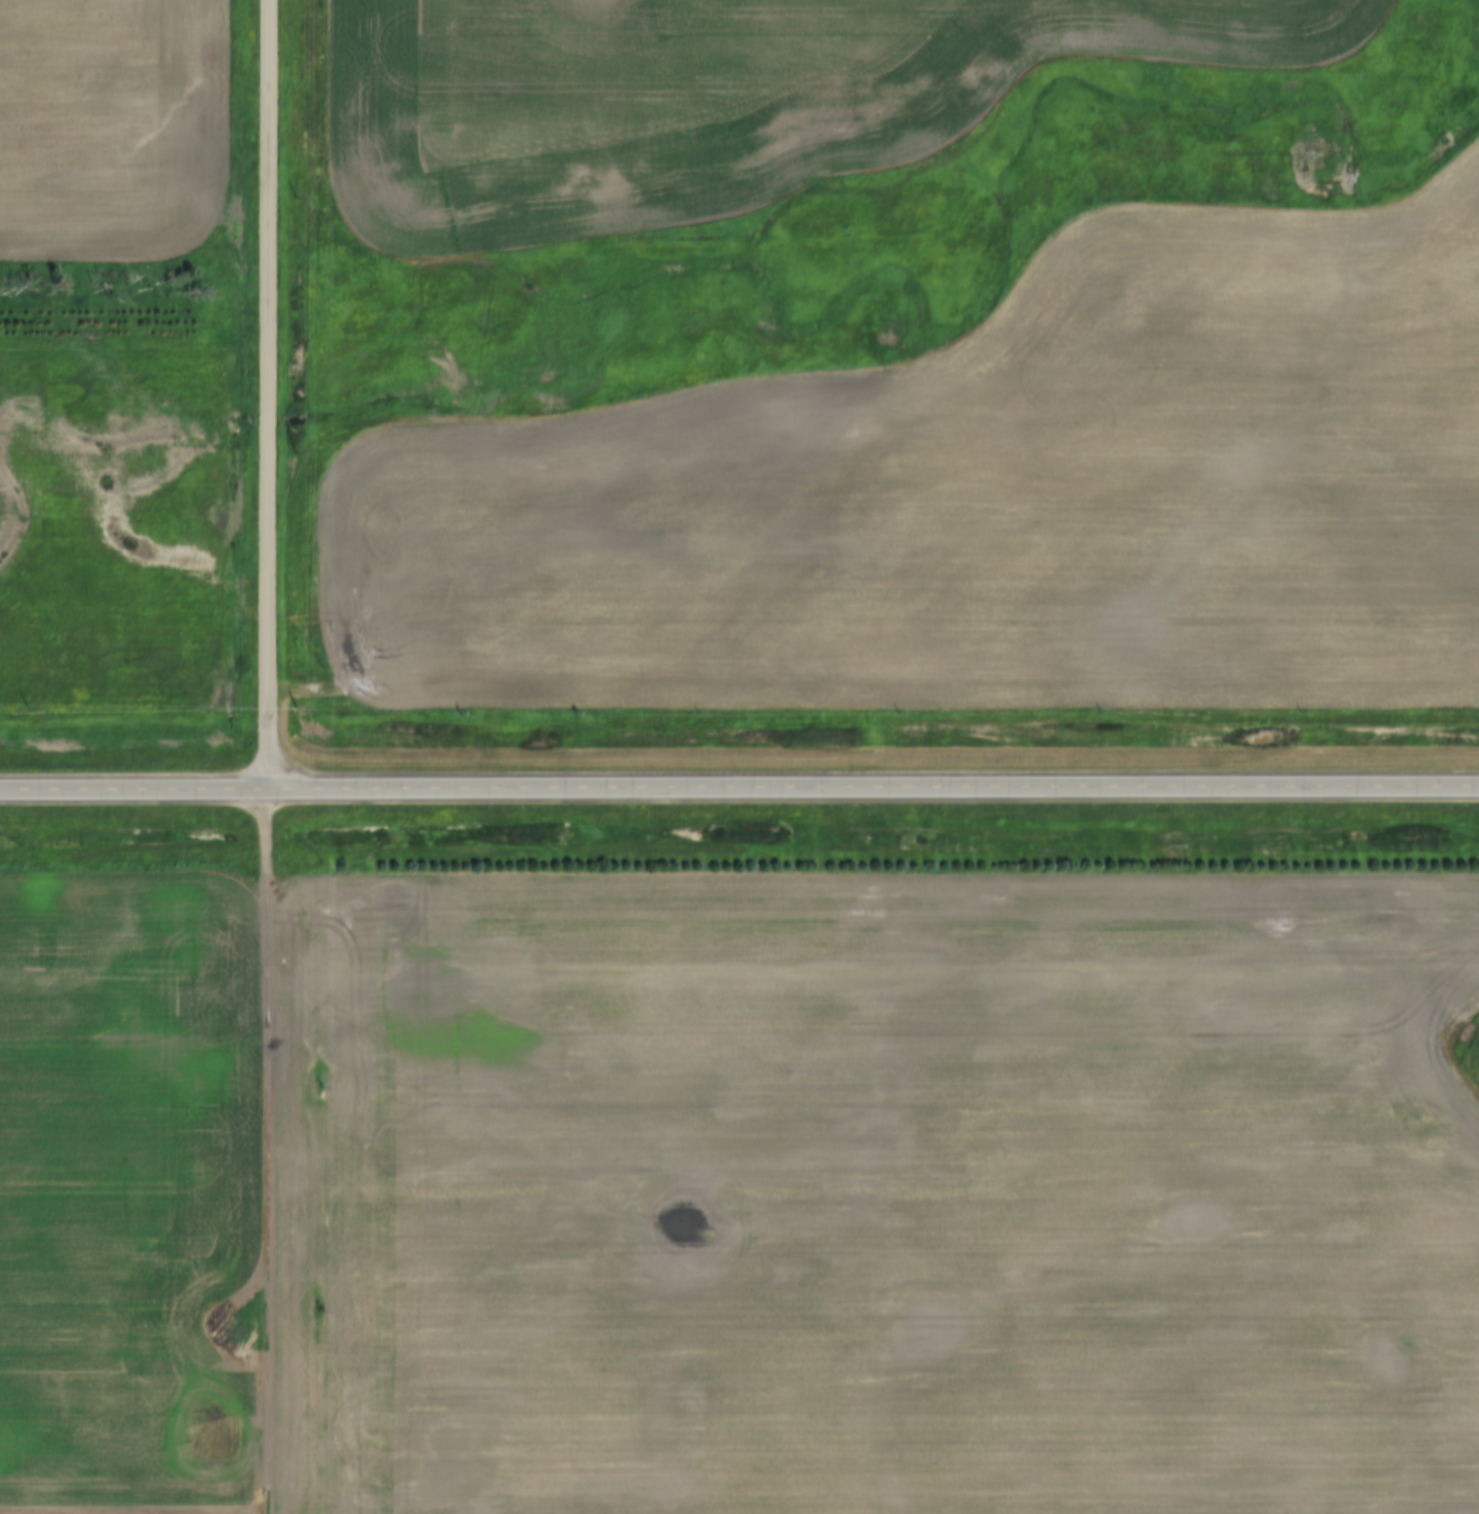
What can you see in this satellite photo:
road: (268, 394)
road: (739, 787)
road: (267, 1151)

